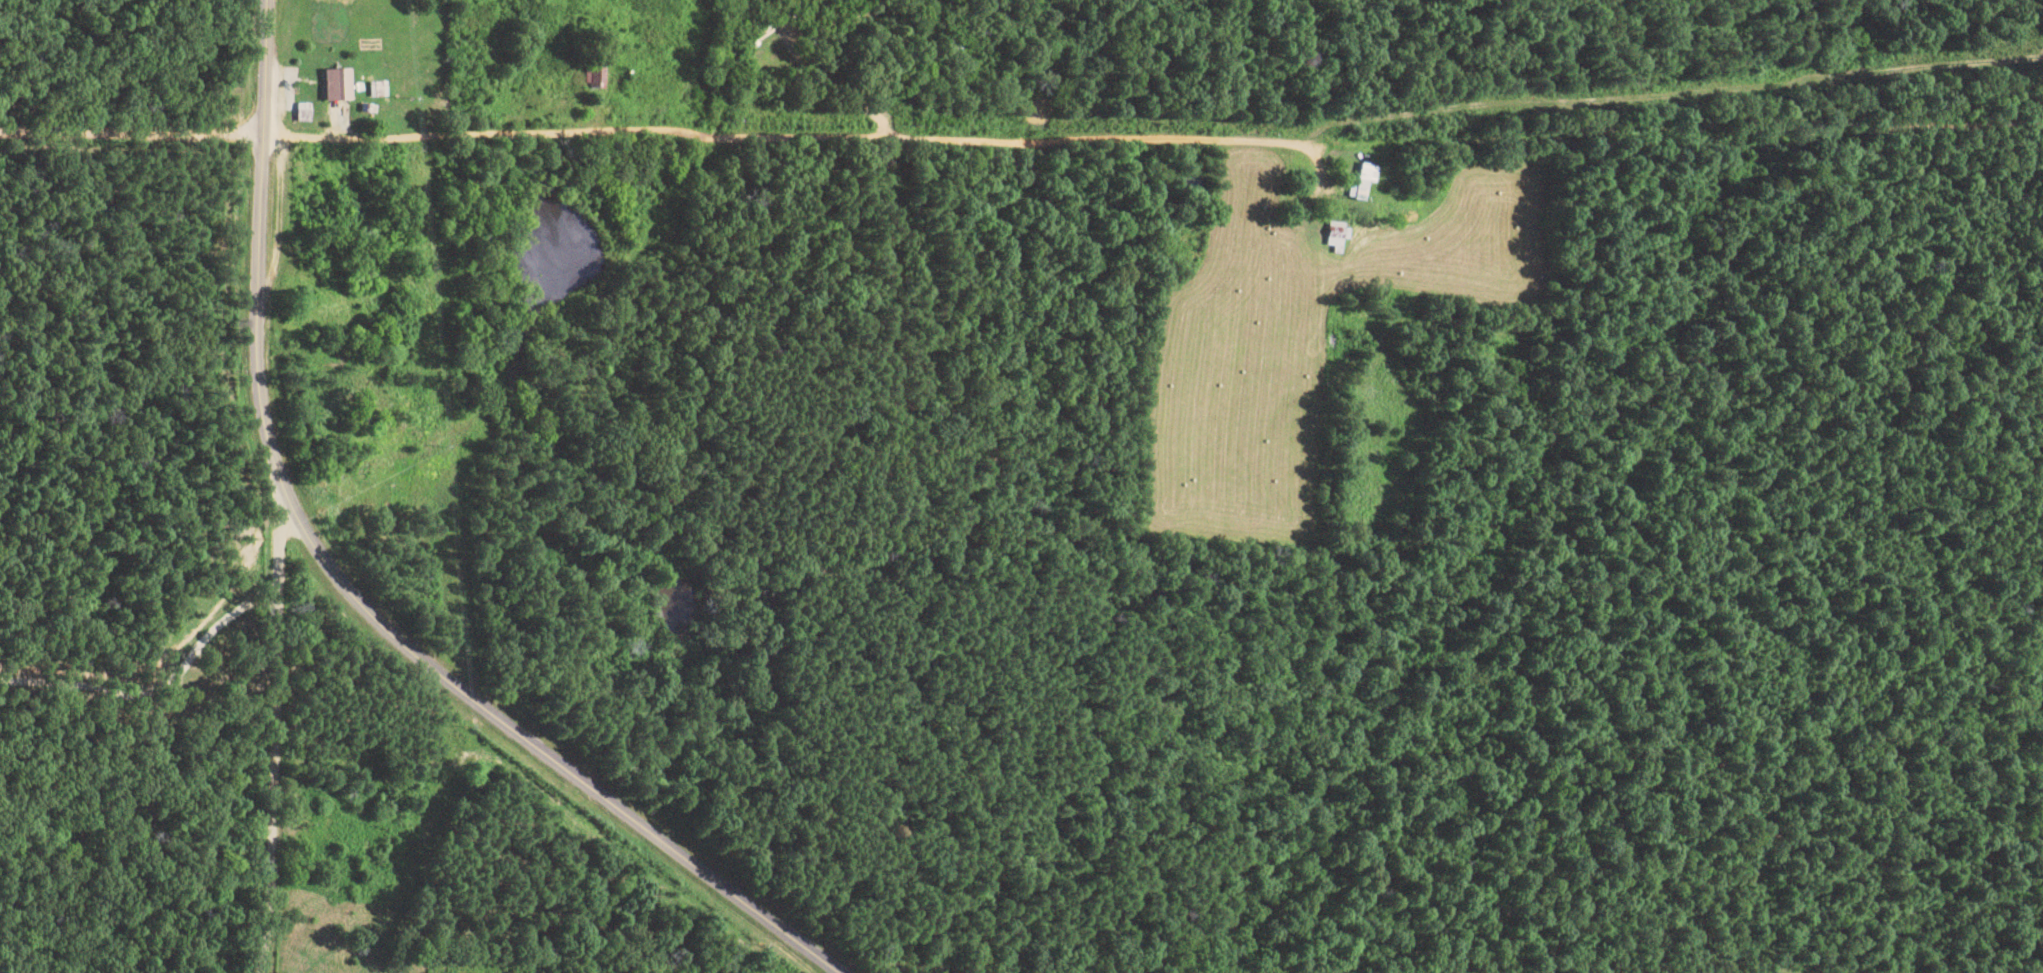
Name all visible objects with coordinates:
building: (595, 76)
building: (341, 87)
road: (1086, 126)
road: (132, 130)
building: (1369, 182)
building: (1341, 236)
road: (259, 275)
road: (275, 747)
road: (586, 756)

